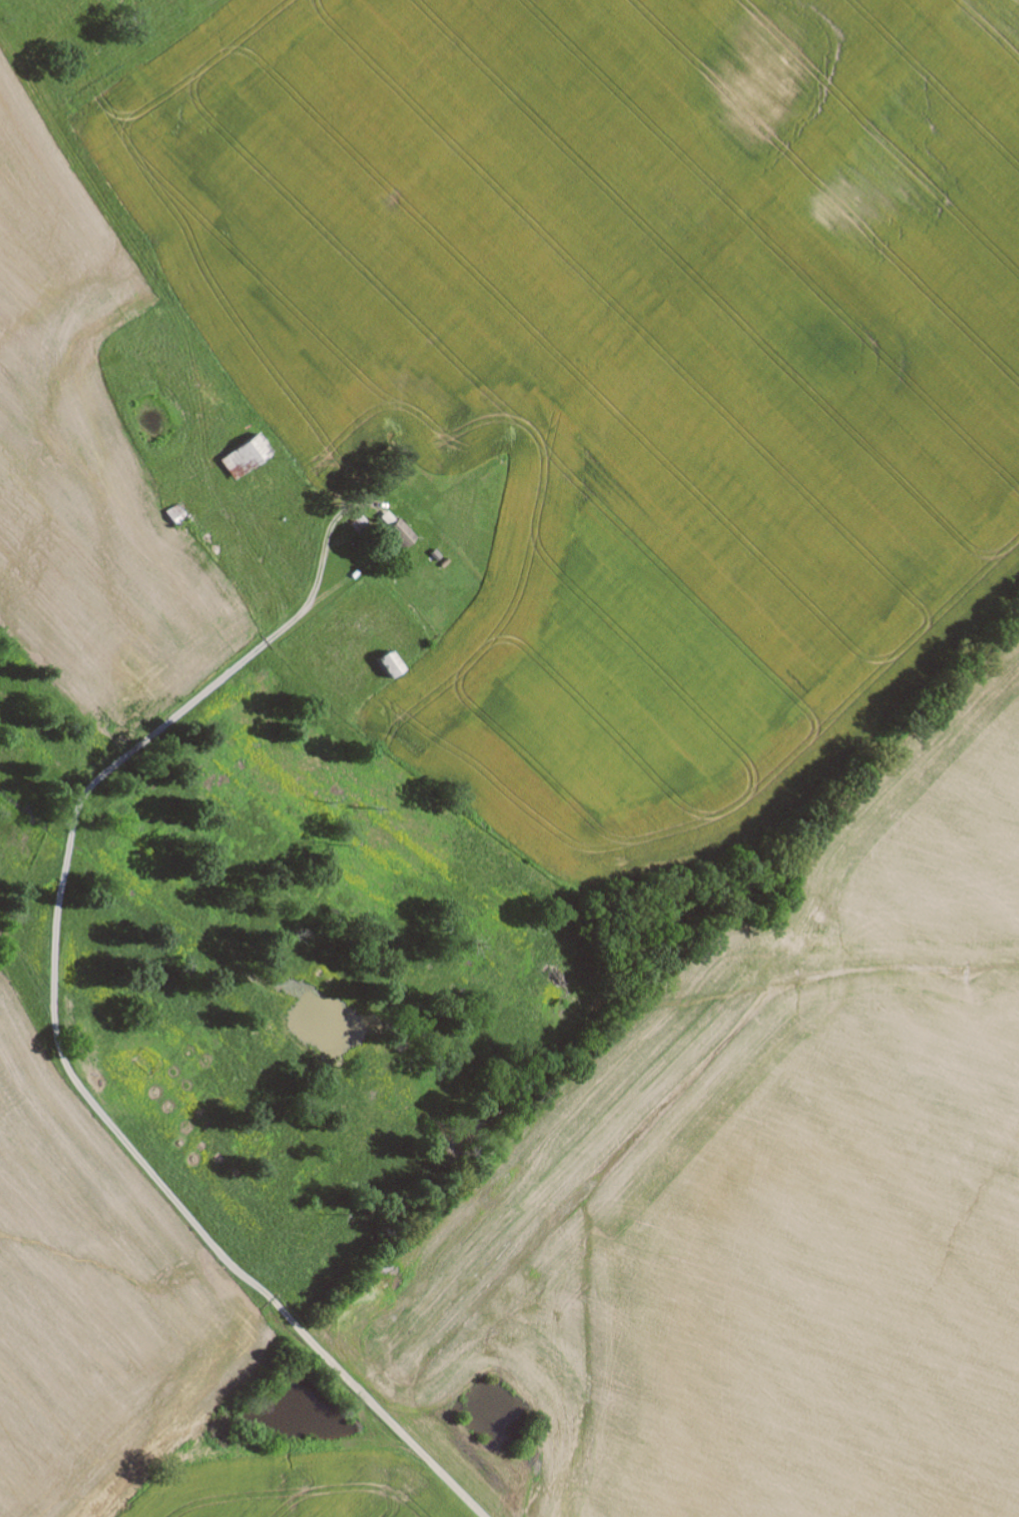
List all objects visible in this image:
building: (244, 455)
building: (398, 532)
road: (368, 565)
building: (389, 664)
road: (95, 1107)

